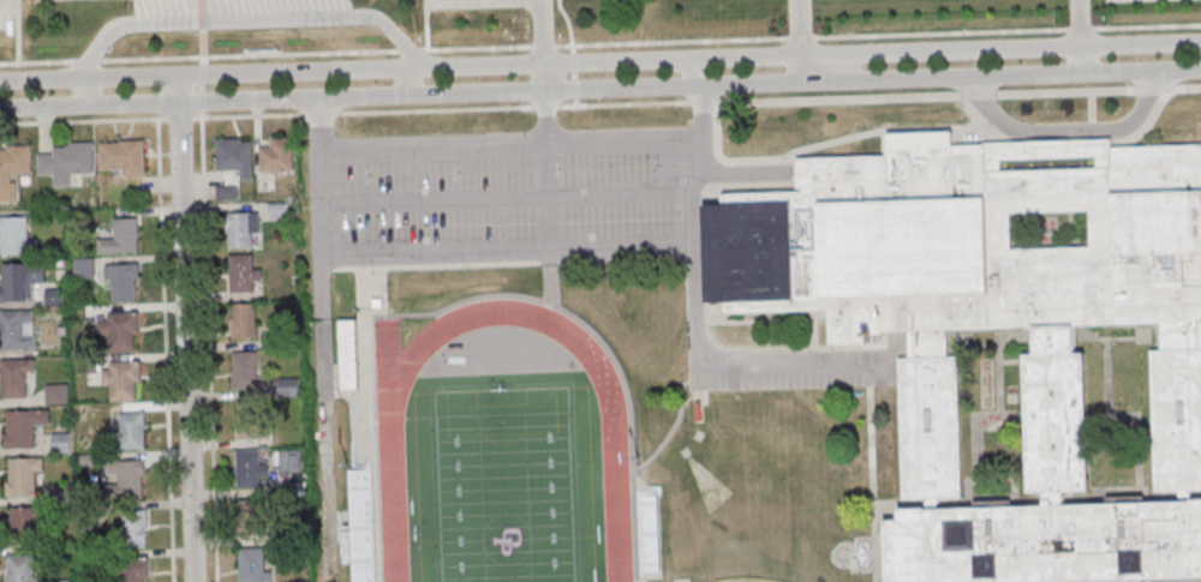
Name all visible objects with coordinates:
parking lot: (1141, 1)
parking lot: (437, 4)
road: (5, 5)
parking lot: (238, 13)
parking lot: (6, 14)
road: (263, 19)
road: (426, 24)
park: (139, 28)
road: (17, 31)
road: (1081, 36)
road: (801, 40)
road: (599, 43)
road: (544, 44)
road: (572, 50)
road: (202, 54)
road: (599, 59)
road: (695, 68)
road: (641, 84)
road: (1184, 85)
road: (1151, 88)
road: (83, 89)
road: (1065, 91)
road: (978, 95)
road: (576, 104)
road: (42, 106)
road: (698, 109)
road: (545, 114)
road: (82, 120)
road: (1066, 130)
road: (508, 143)
building: (277, 155)
building: (124, 156)
building: (234, 156)
building: (67, 161)
building: (13, 167)
building: (226, 192)
road: (507, 196)
building: (276, 209)
building: (243, 228)
building: (14, 235)
building: (120, 238)
road: (482, 254)
building: (84, 268)
building: (243, 271)
building: (19, 278)
building: (123, 280)
building: (244, 319)
road: (187, 326)
building: (17, 328)
building: (121, 331)
road: (208, 346)
road: (165, 347)
building: (349, 354)
building: (1054, 358)
building: (88, 364)
building: (246, 370)
building: (14, 377)
building: (123, 379)
building: (56, 392)
building: (249, 420)
building: (23, 426)
building: (132, 430)
building: (60, 442)
building: (289, 461)
building: (249, 468)
building: (23, 474)
building: (127, 476)
park: (504, 478)
track: (393, 499)
building: (250, 514)
building: (24, 523)
building: (137, 528)
building: (649, 532)
building: (252, 565)
building: (22, 569)
building: (133, 570)
park: (752, 580)

